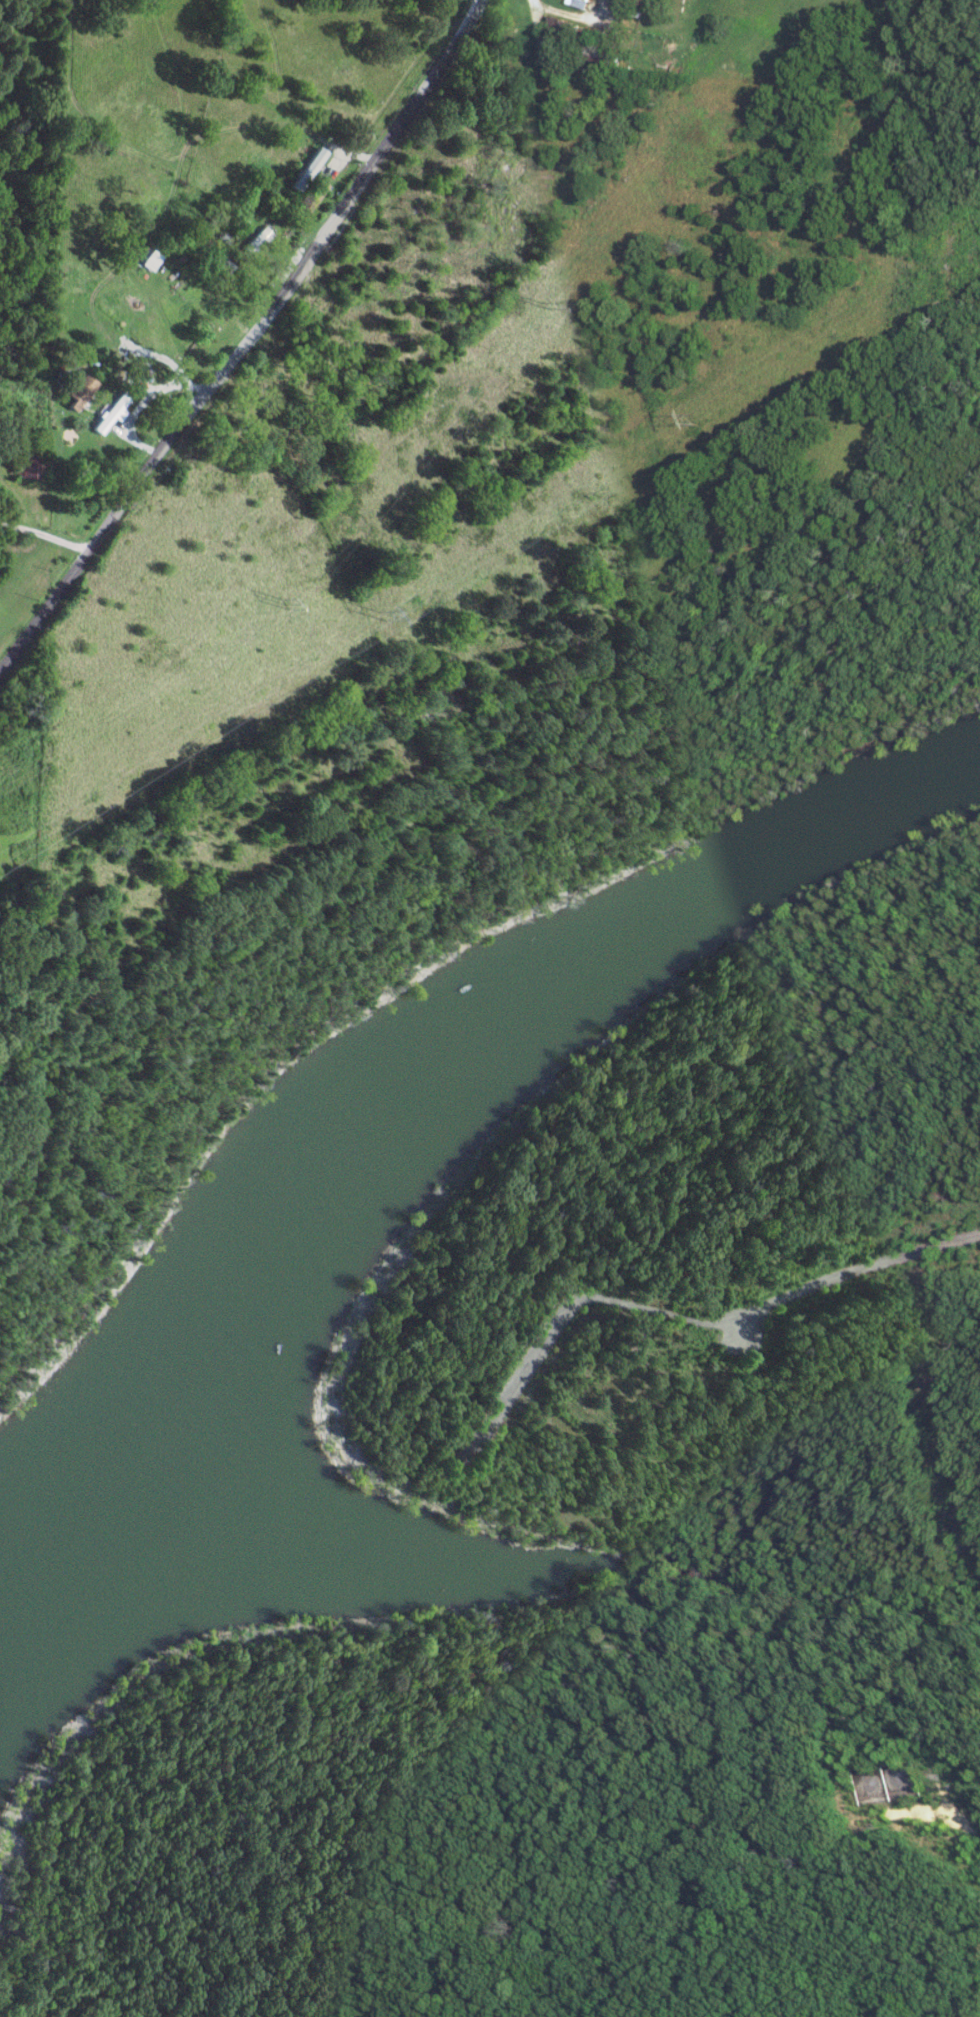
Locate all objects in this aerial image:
building: (575, 3)
road: (564, 16)
building: (546, 32)
building: (662, 54)
building: (310, 162)
building: (309, 194)
building: (255, 240)
building: (148, 259)
building: (219, 262)
power tower: (538, 303)
road: (248, 343)
building: (76, 390)
building: (107, 413)
power tower: (691, 414)
road: (46, 536)
power tower: (283, 600)
power tower: (379, 615)

